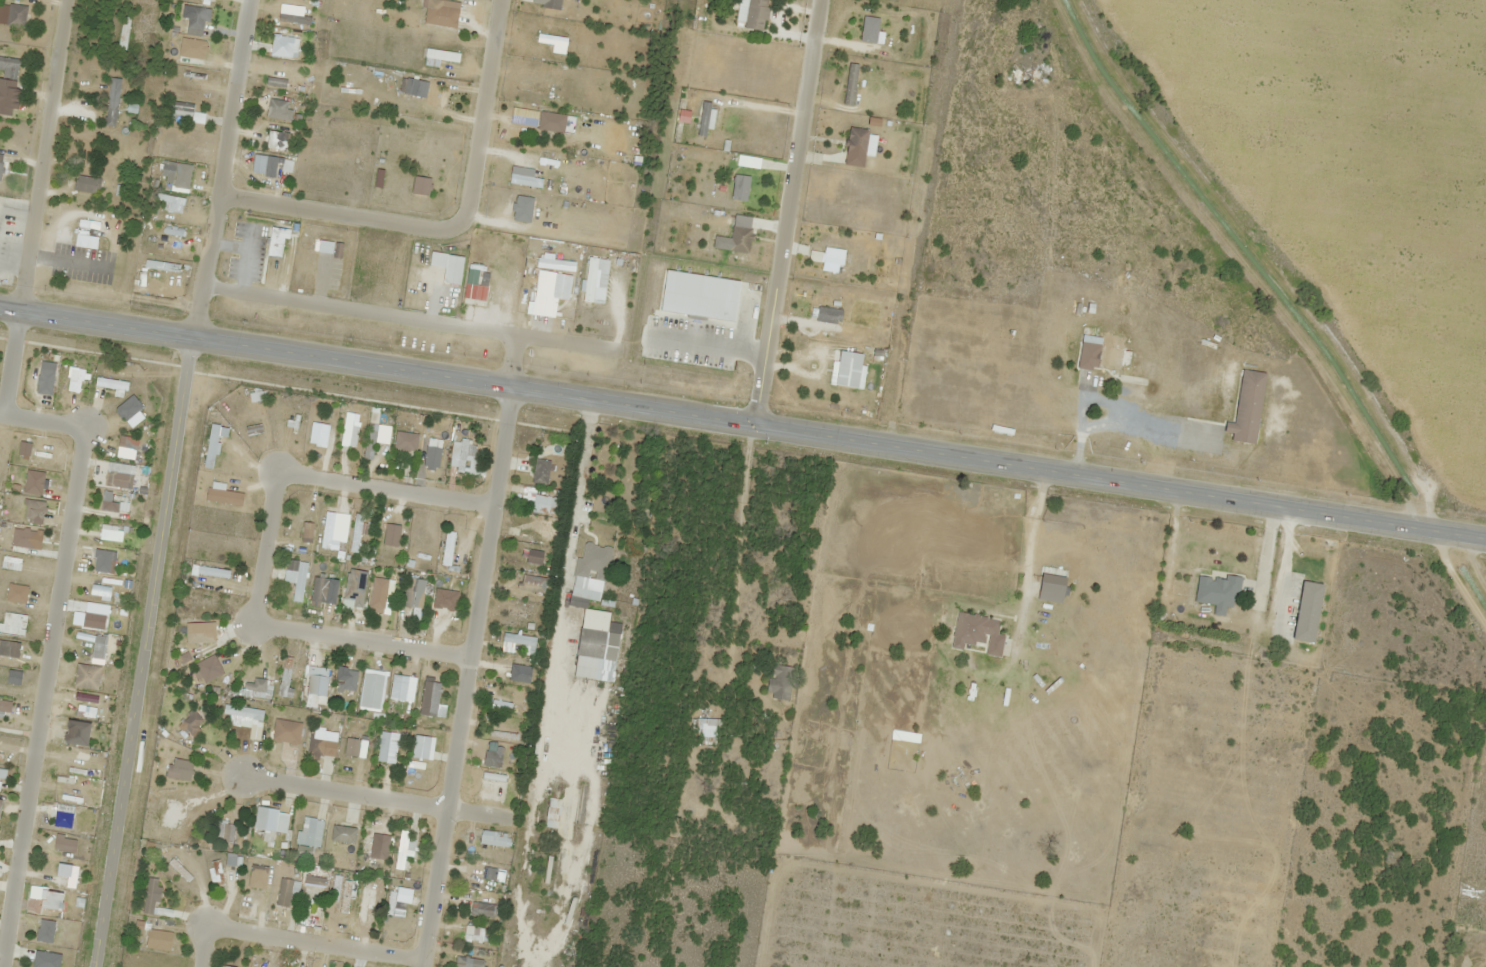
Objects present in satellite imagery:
building: (451, 3)
building: (756, 3)
building: (551, 4)
building: (12, 15)
building: (122, 32)
building: (550, 39)
building: (441, 54)
building: (9, 67)
building: (275, 81)
road: (228, 98)
building: (184, 111)
building: (110, 113)
building: (523, 116)
building: (704, 117)
building: (856, 140)
building: (0, 161)
building: (257, 163)
building: (525, 180)
building: (87, 184)
building: (739, 187)
building: (527, 203)
road: (34, 205)
road: (784, 212)
road: (448, 230)
building: (738, 239)
building: (275, 242)
building: (831, 259)
building: (452, 269)
building: (589, 279)
building: (828, 315)
road: (408, 317)
building: (1108, 357)
building: (847, 370)
building: (1246, 407)
road: (2, 411)
road: (743, 423)
building: (317, 434)
building: (400, 441)
building: (381, 442)
building: (438, 450)
building: (557, 450)
building: (217, 453)
building: (460, 455)
building: (539, 471)
road: (382, 488)
building: (537, 528)
building: (383, 538)
building: (419, 542)
road: (262, 548)
building: (592, 562)
building: (295, 577)
road: (153, 581)
building: (517, 584)
building: (1179, 587)
building: (1050, 588)
building: (320, 589)
building: (1216, 593)
building: (388, 595)
building: (416, 600)
building: (576, 600)
building: (446, 604)
building: (1306, 612)
building: (518, 613)
building: (976, 633)
building: (197, 637)
road: (358, 641)
building: (596, 646)
road: (468, 650)
road: (47, 659)
building: (778, 682)
building: (397, 686)
building: (370, 691)
building: (428, 698)
building: (191, 722)
building: (254, 728)
building: (704, 730)
building: (316, 743)
building: (350, 747)
building: (386, 747)
building: (415, 751)
building: (491, 759)
building: (496, 780)
road: (341, 792)
building: (553, 813)
building: (342, 834)
building: (493, 840)
building: (405, 841)
building: (366, 846)
building: (179, 870)
building: (257, 870)
building: (216, 873)
building: (491, 874)
building: (314, 876)
building: (371, 891)
building: (283, 892)
building: (150, 896)
building: (346, 899)
building: (483, 906)
building: (484, 941)
road: (312, 942)
road: (200, 946)
building: (466, 962)

